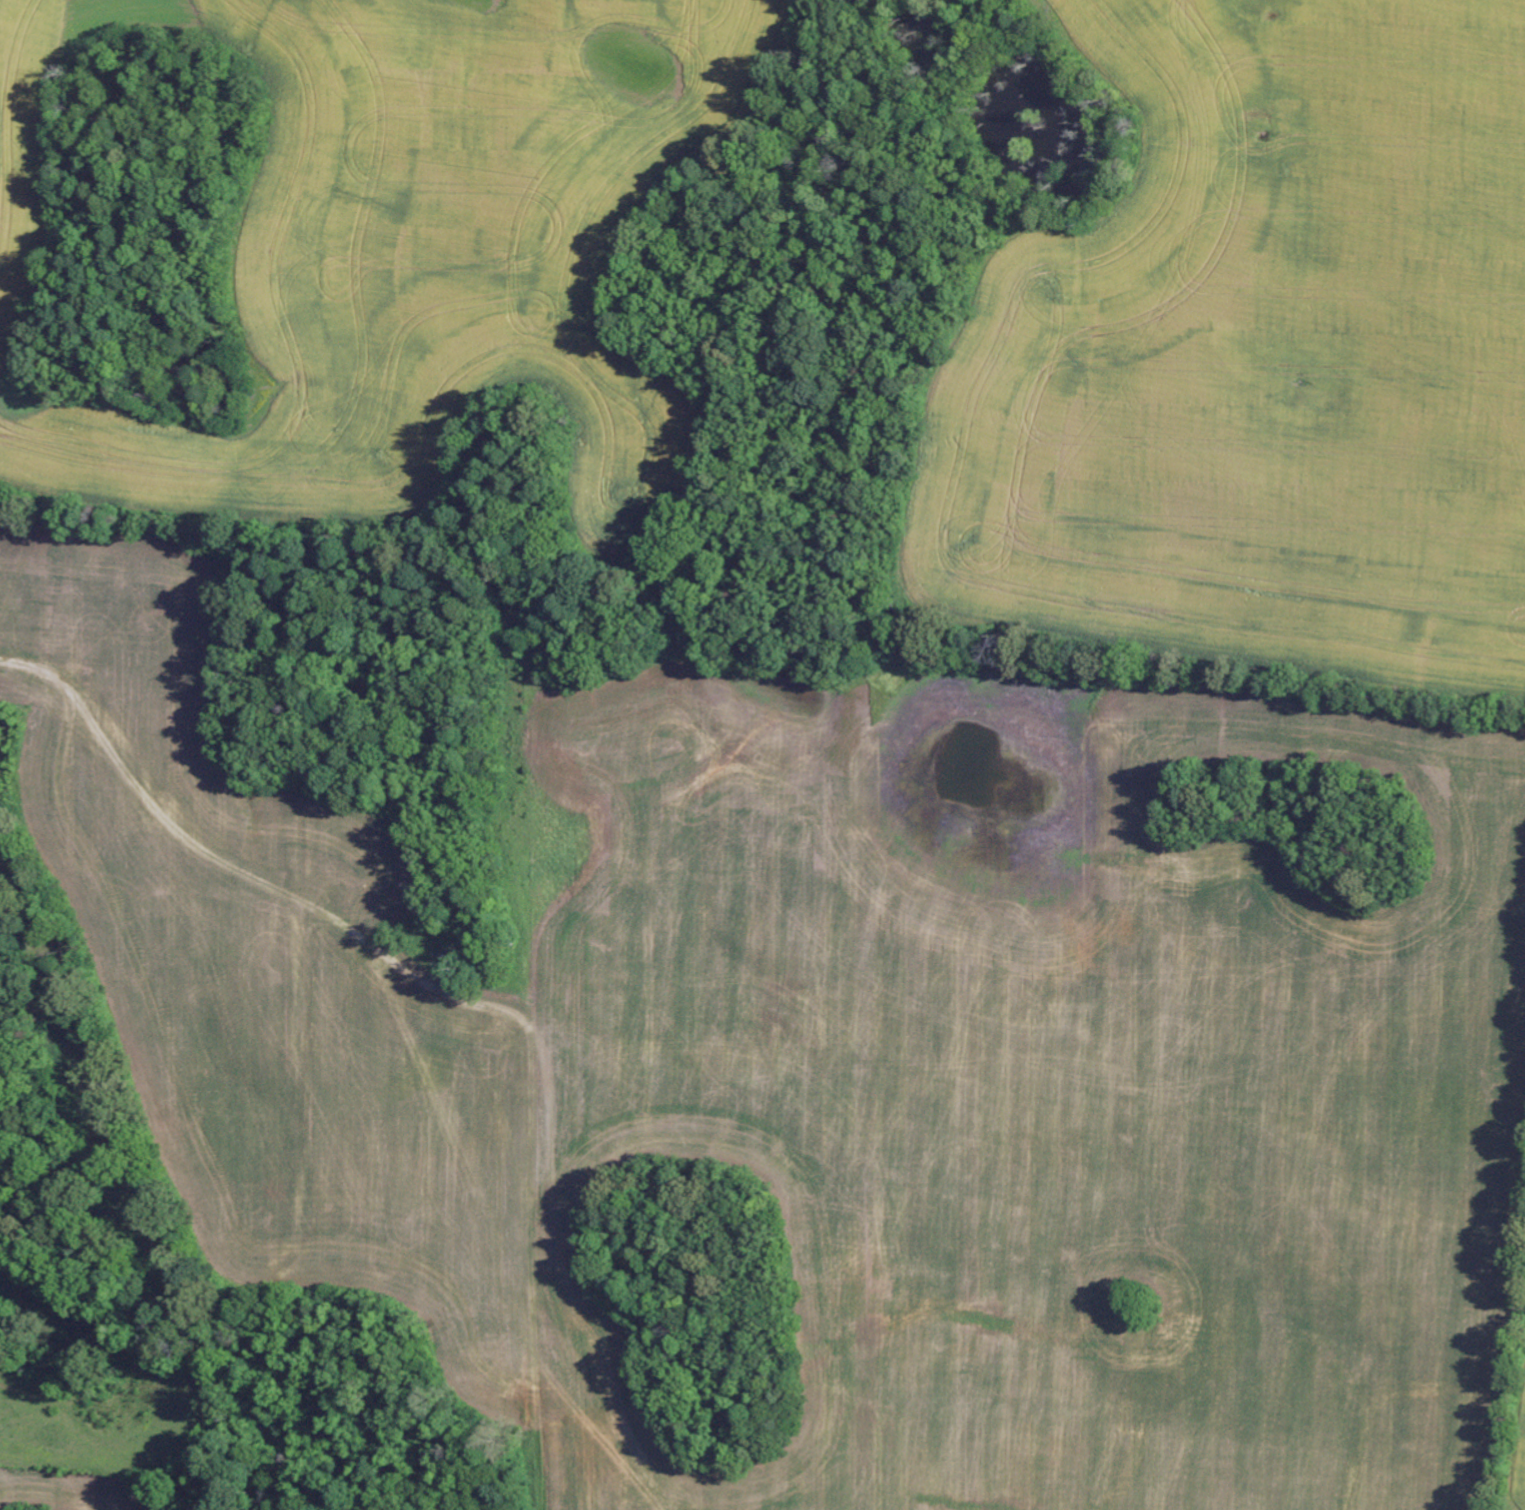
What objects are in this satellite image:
road: (354, 1171)
road: (328, 1429)

